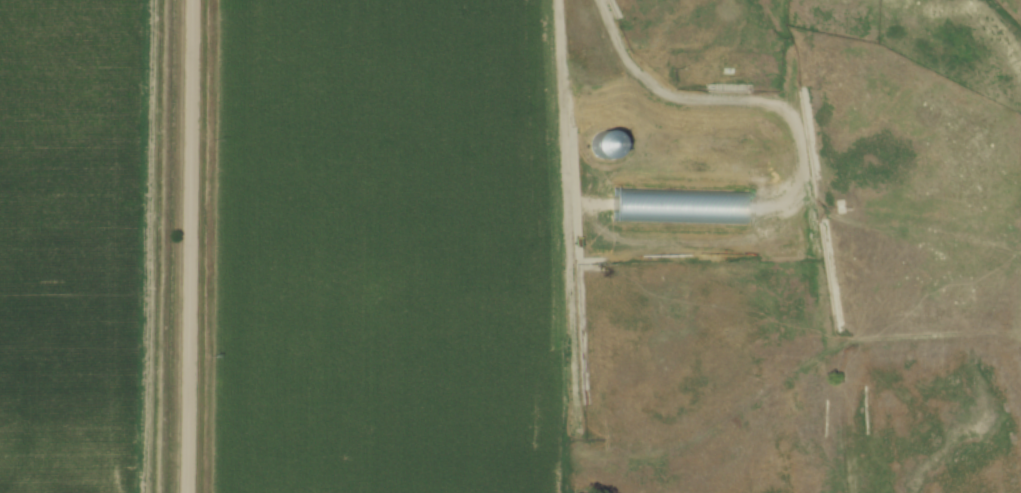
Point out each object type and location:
road: (190, 246)

